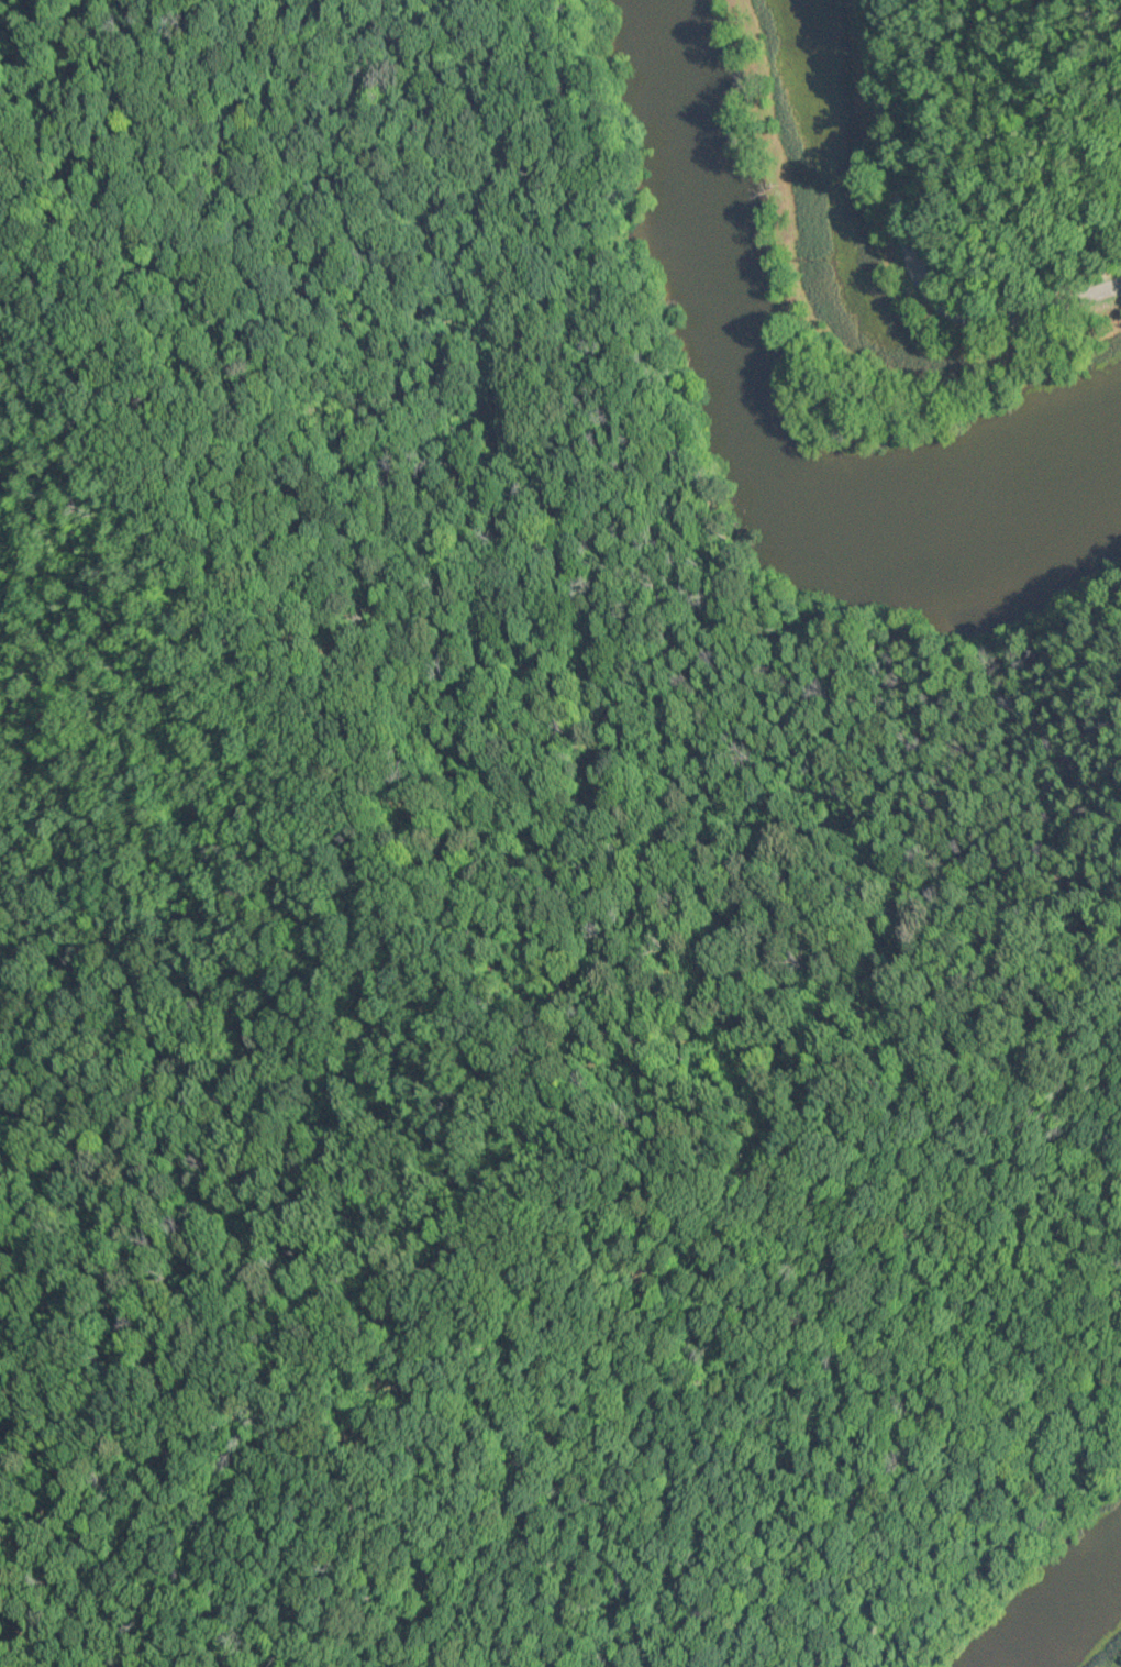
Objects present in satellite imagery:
road: (908, 243)
river: (759, 424)
river: (1077, 1621)

